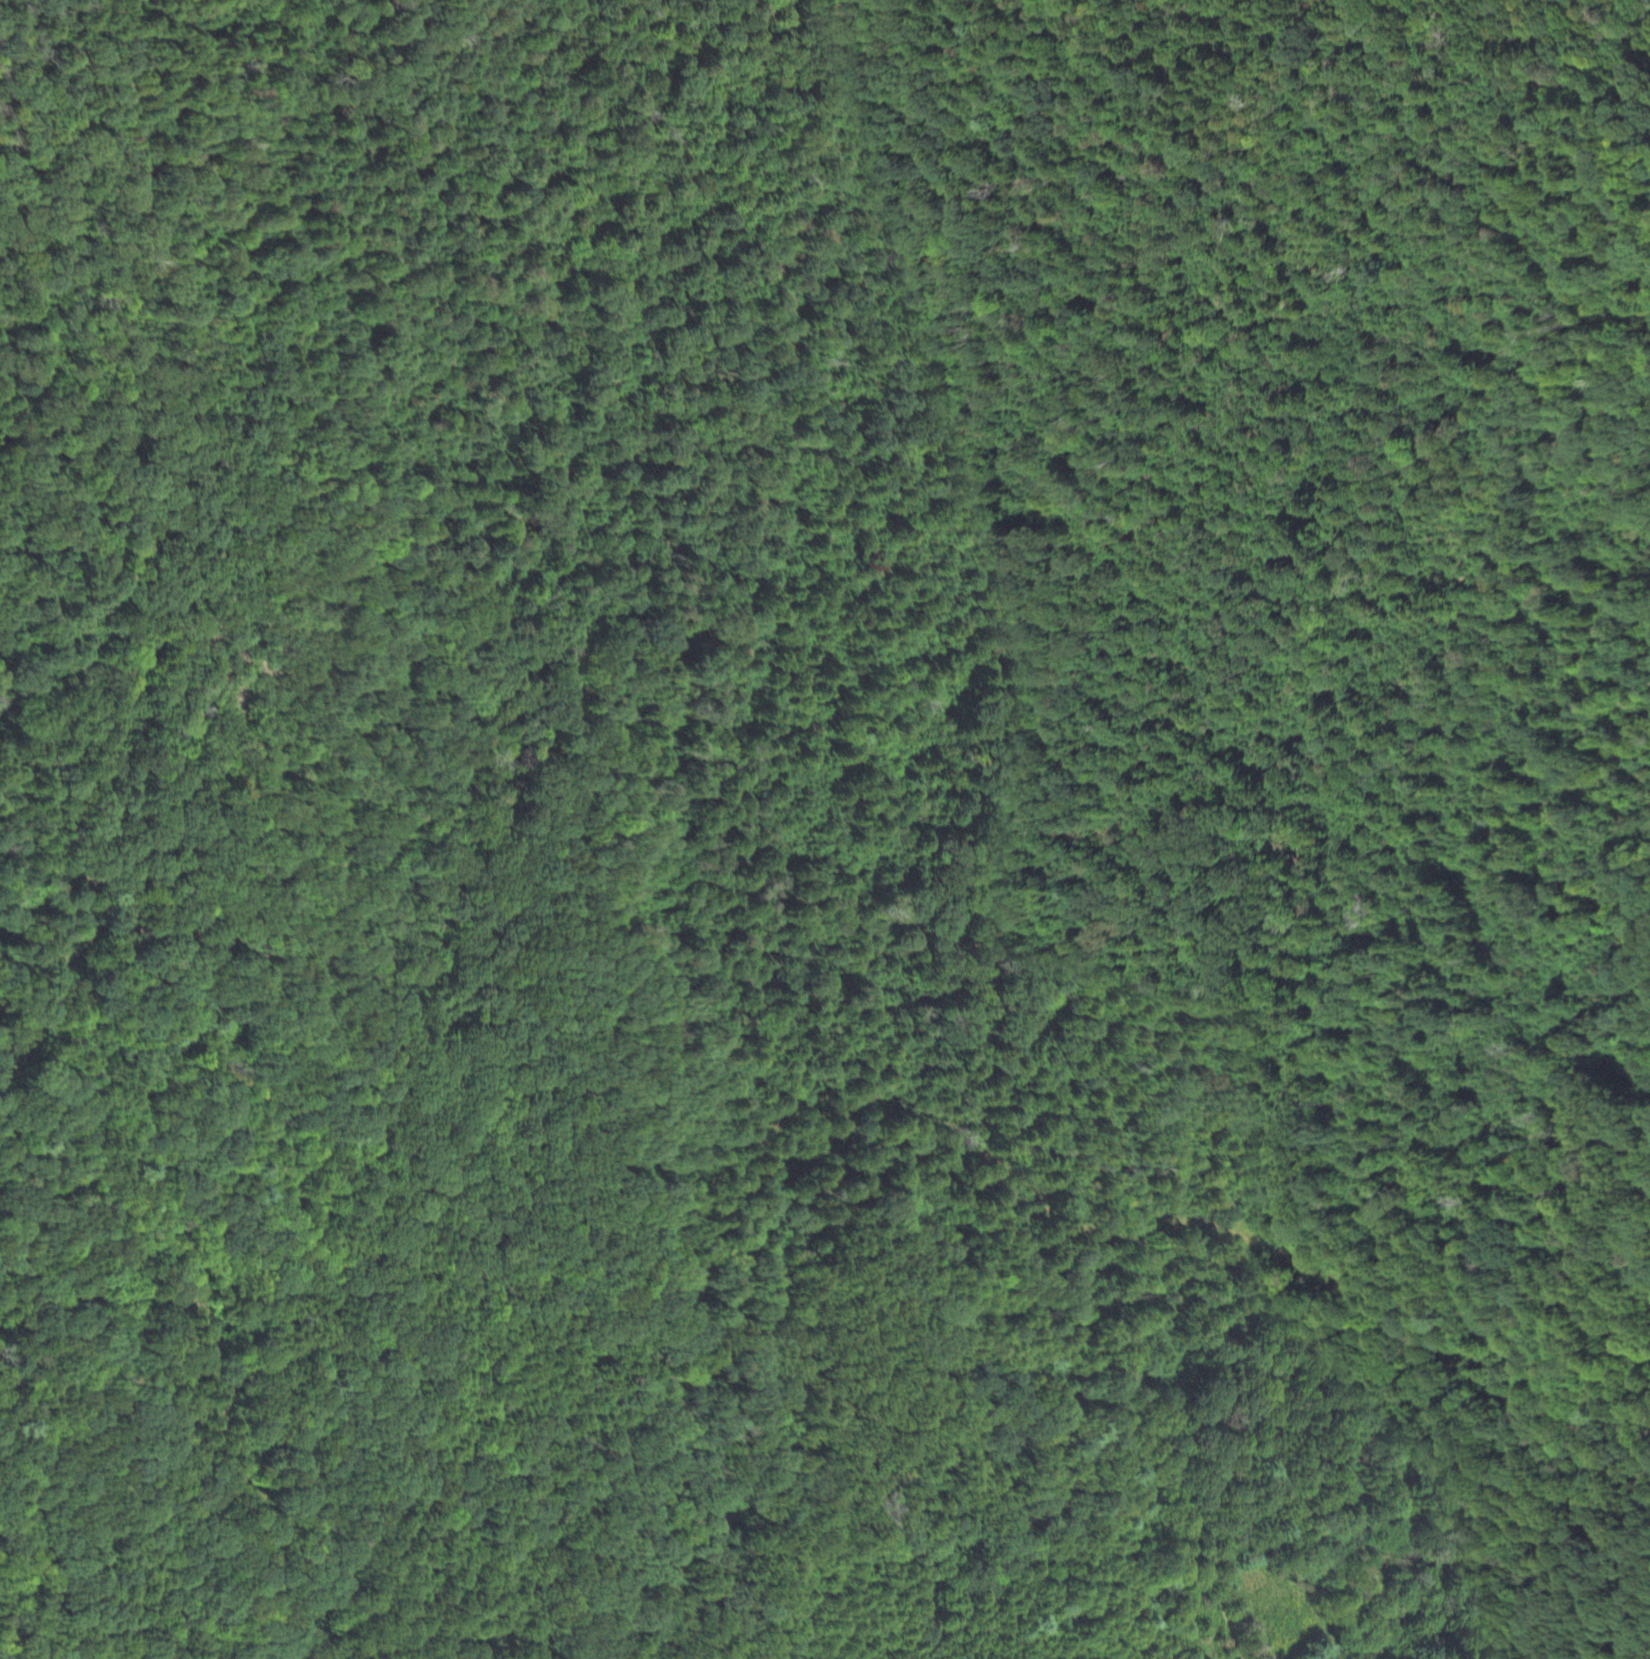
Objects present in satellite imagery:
road: (1187, 1626)

